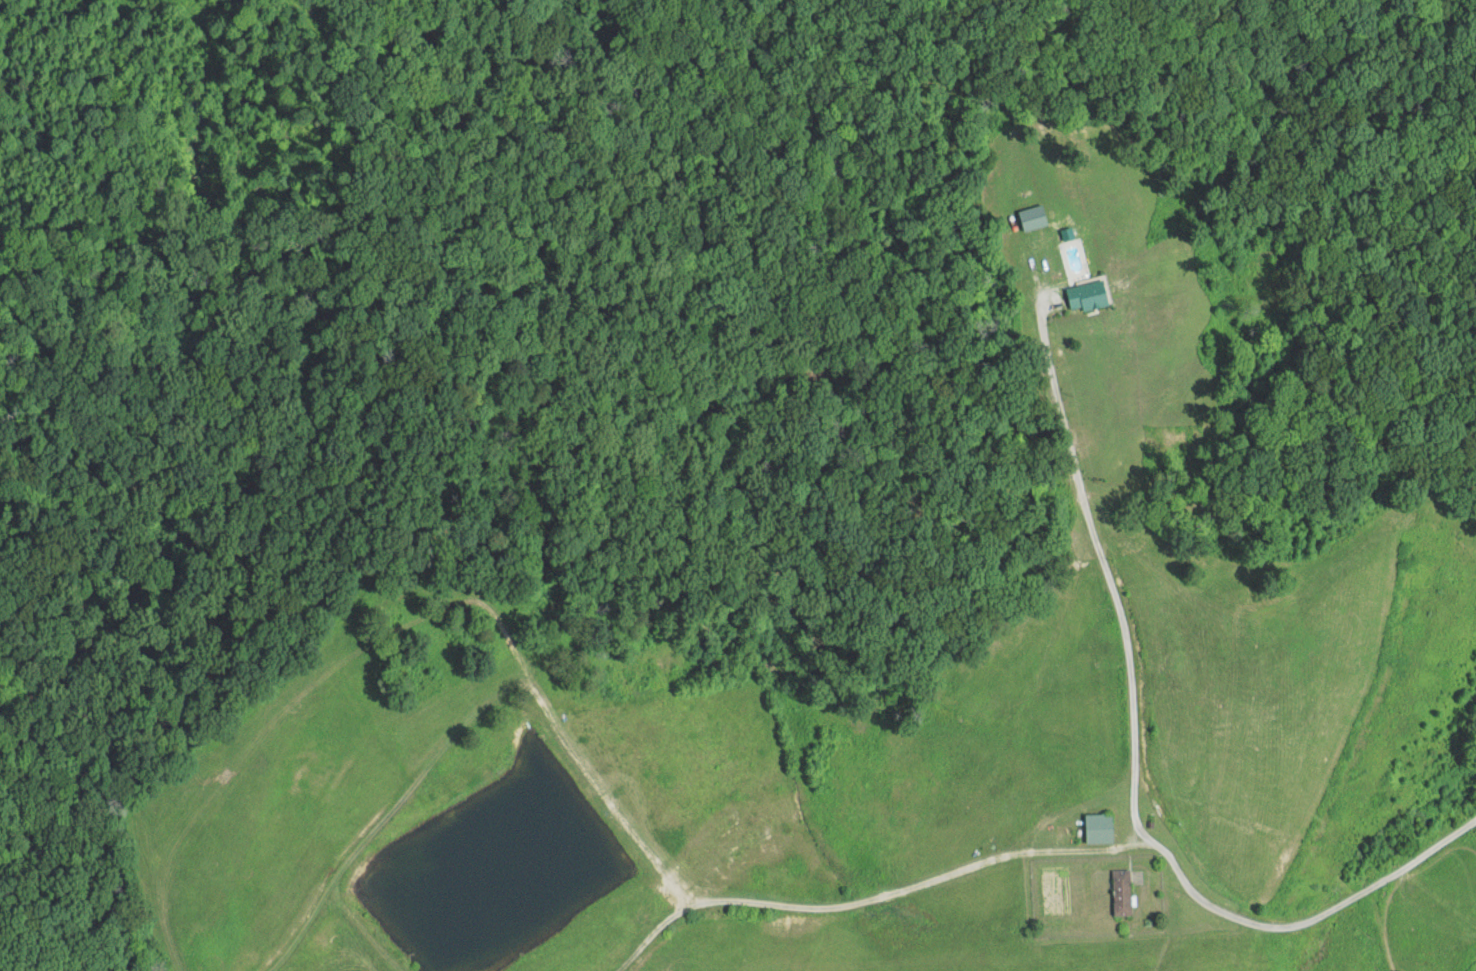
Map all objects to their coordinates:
road: (1411, 893)

